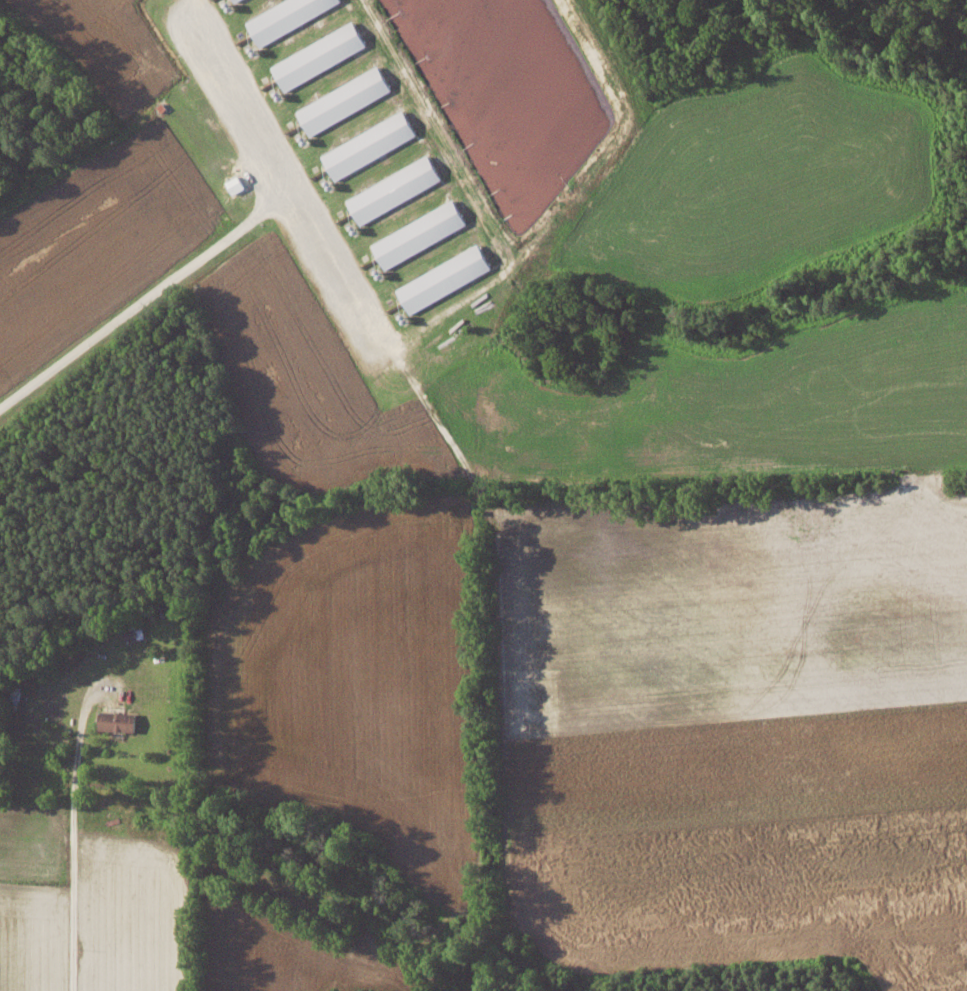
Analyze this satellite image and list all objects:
building: (235, 0)
building: (287, 17)
building: (319, 56)
building: (344, 101)
building: (369, 145)
building: (236, 184)
building: (394, 190)
building: (420, 234)
building: (444, 279)
road: (142, 300)
building: (135, 633)
building: (118, 720)
road: (70, 838)

